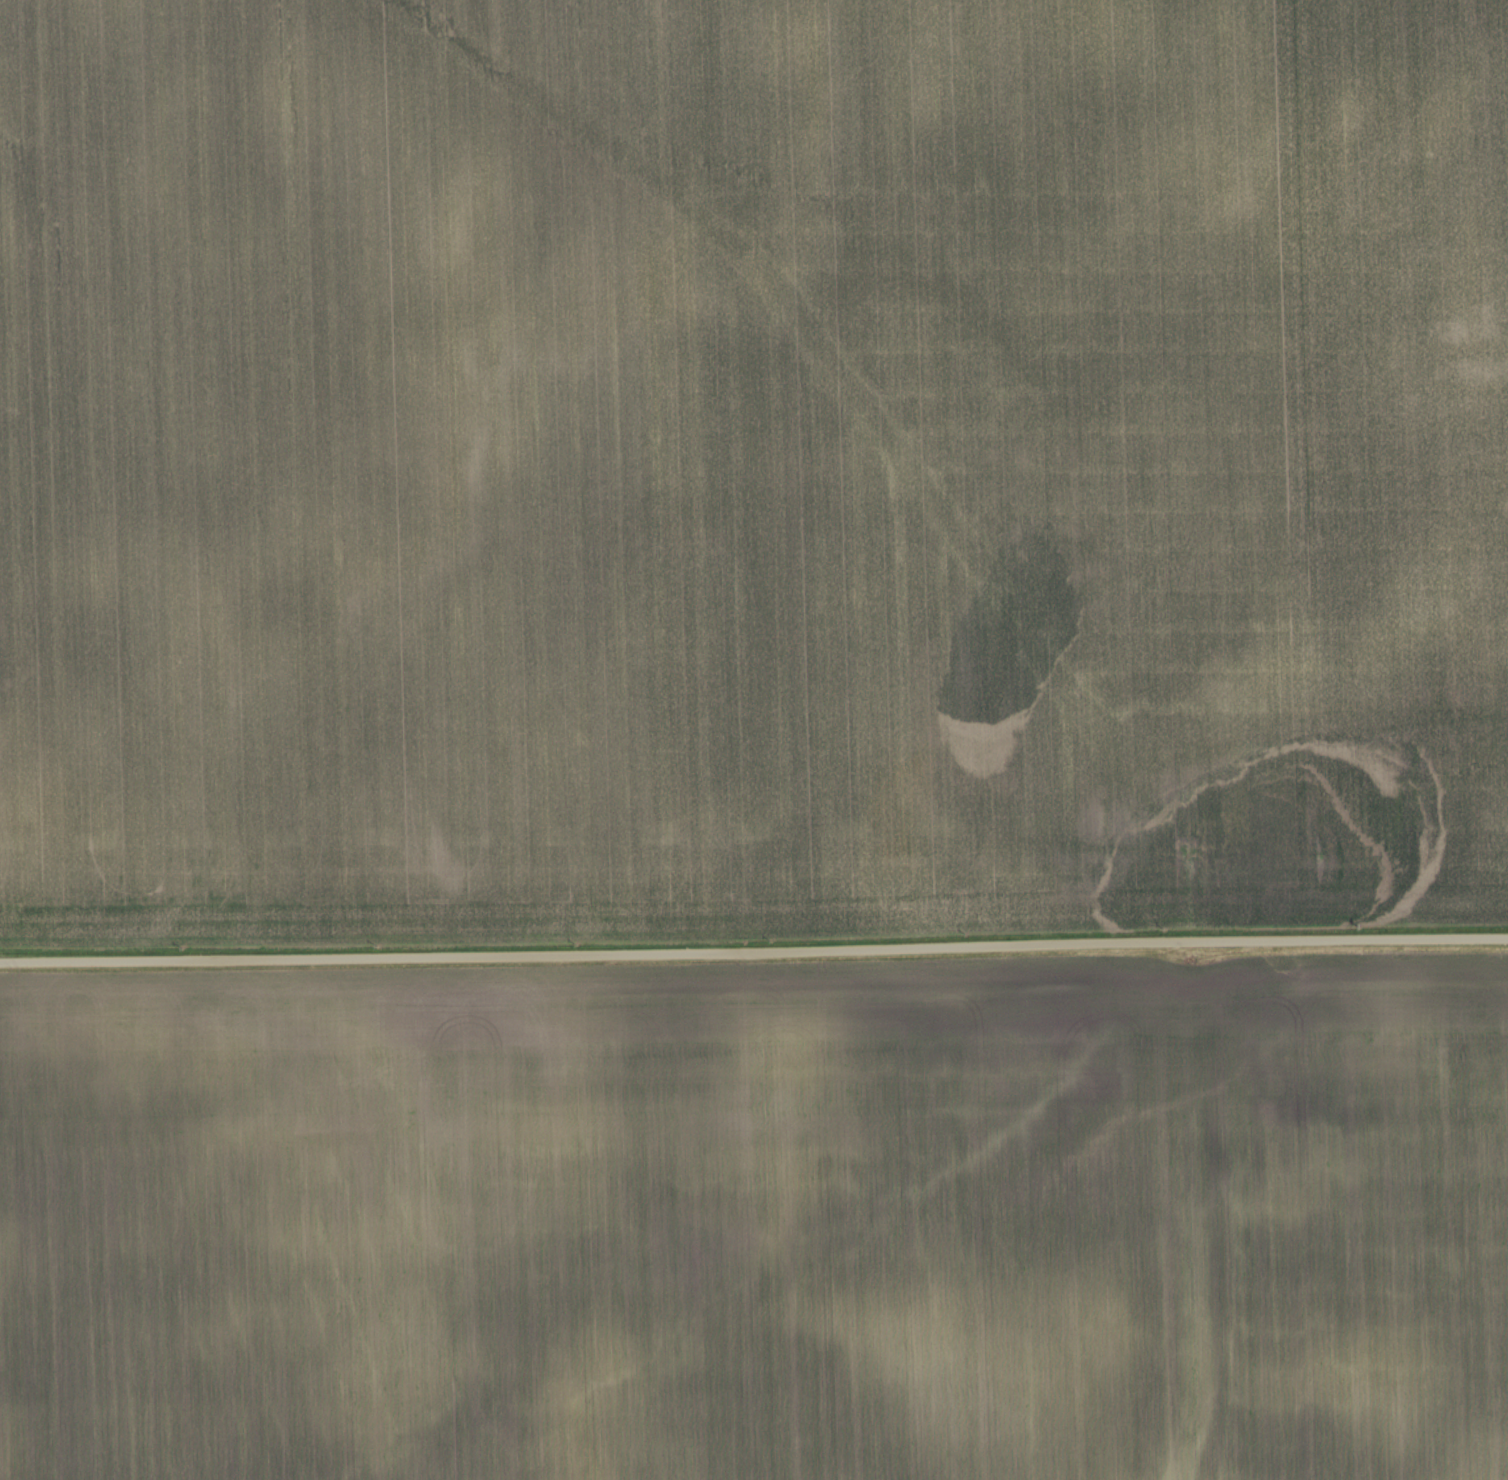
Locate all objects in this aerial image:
crop: (750, 468)
road: (754, 950)
crop: (759, 1221)

